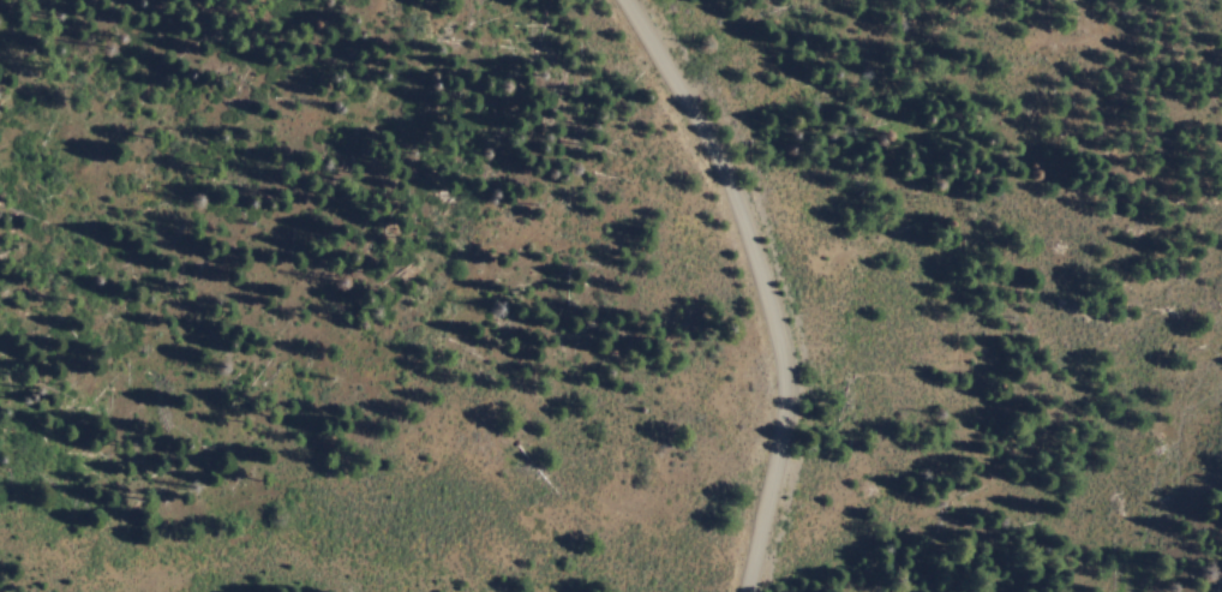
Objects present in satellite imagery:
road: (761, 282)

